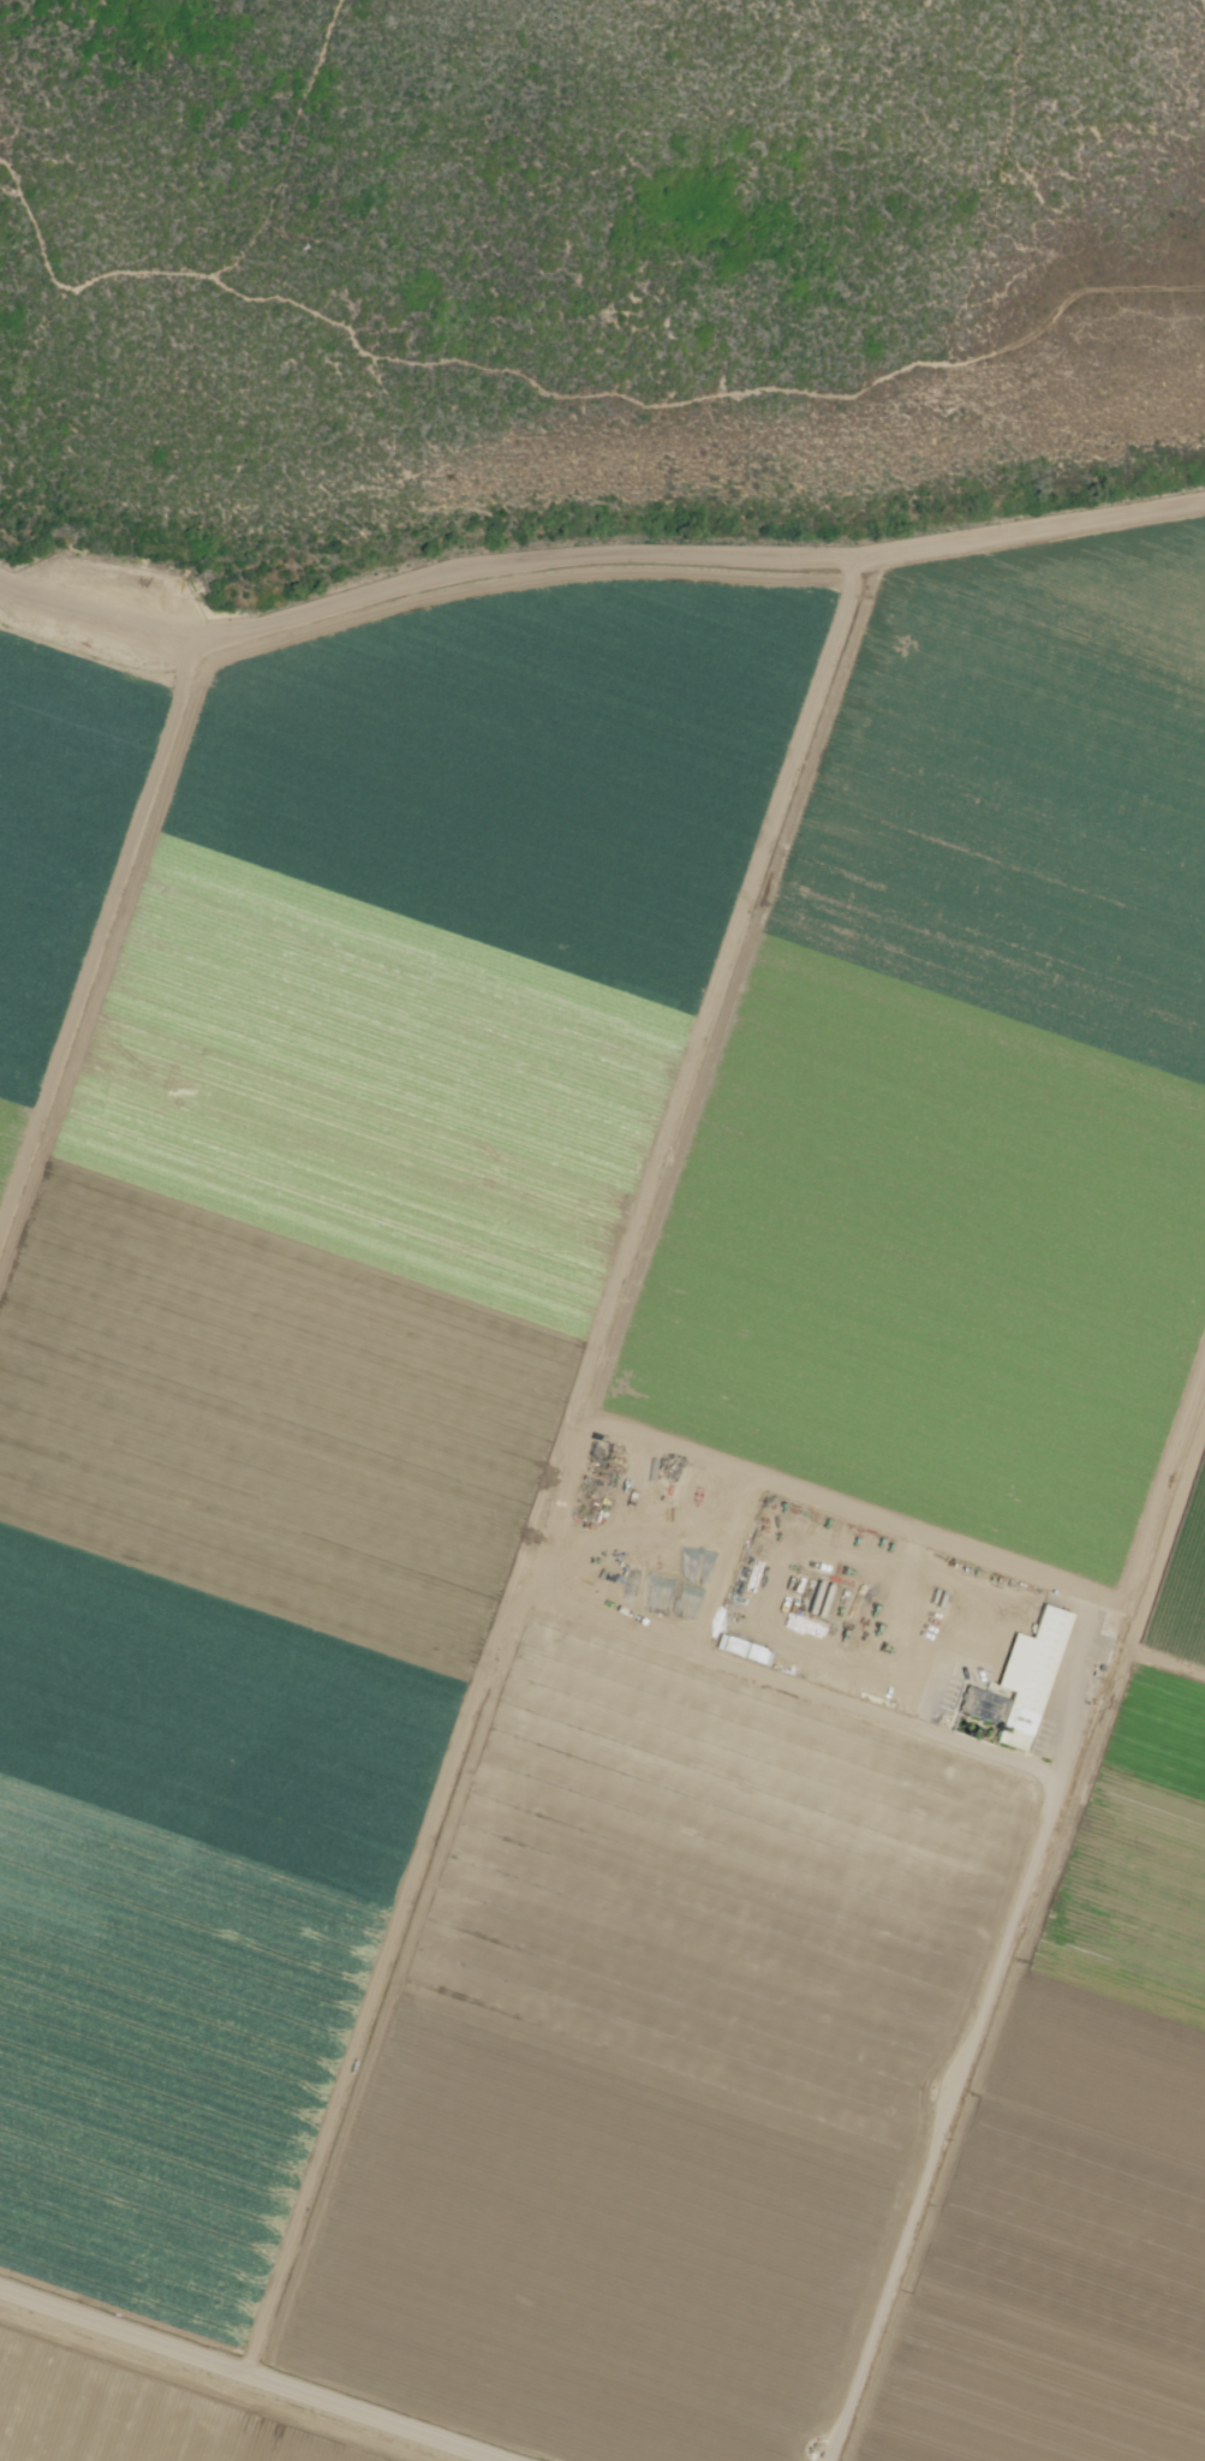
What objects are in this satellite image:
crop: (60, 841)
crop: (966, 1077)
crop: (324, 1347)
building: (741, 1650)
building: (1022, 1681)
crop: (657, 2062)
road: (964, 2074)
crop: (1088, 2119)
road: (247, 2377)
crop: (129, 2415)

